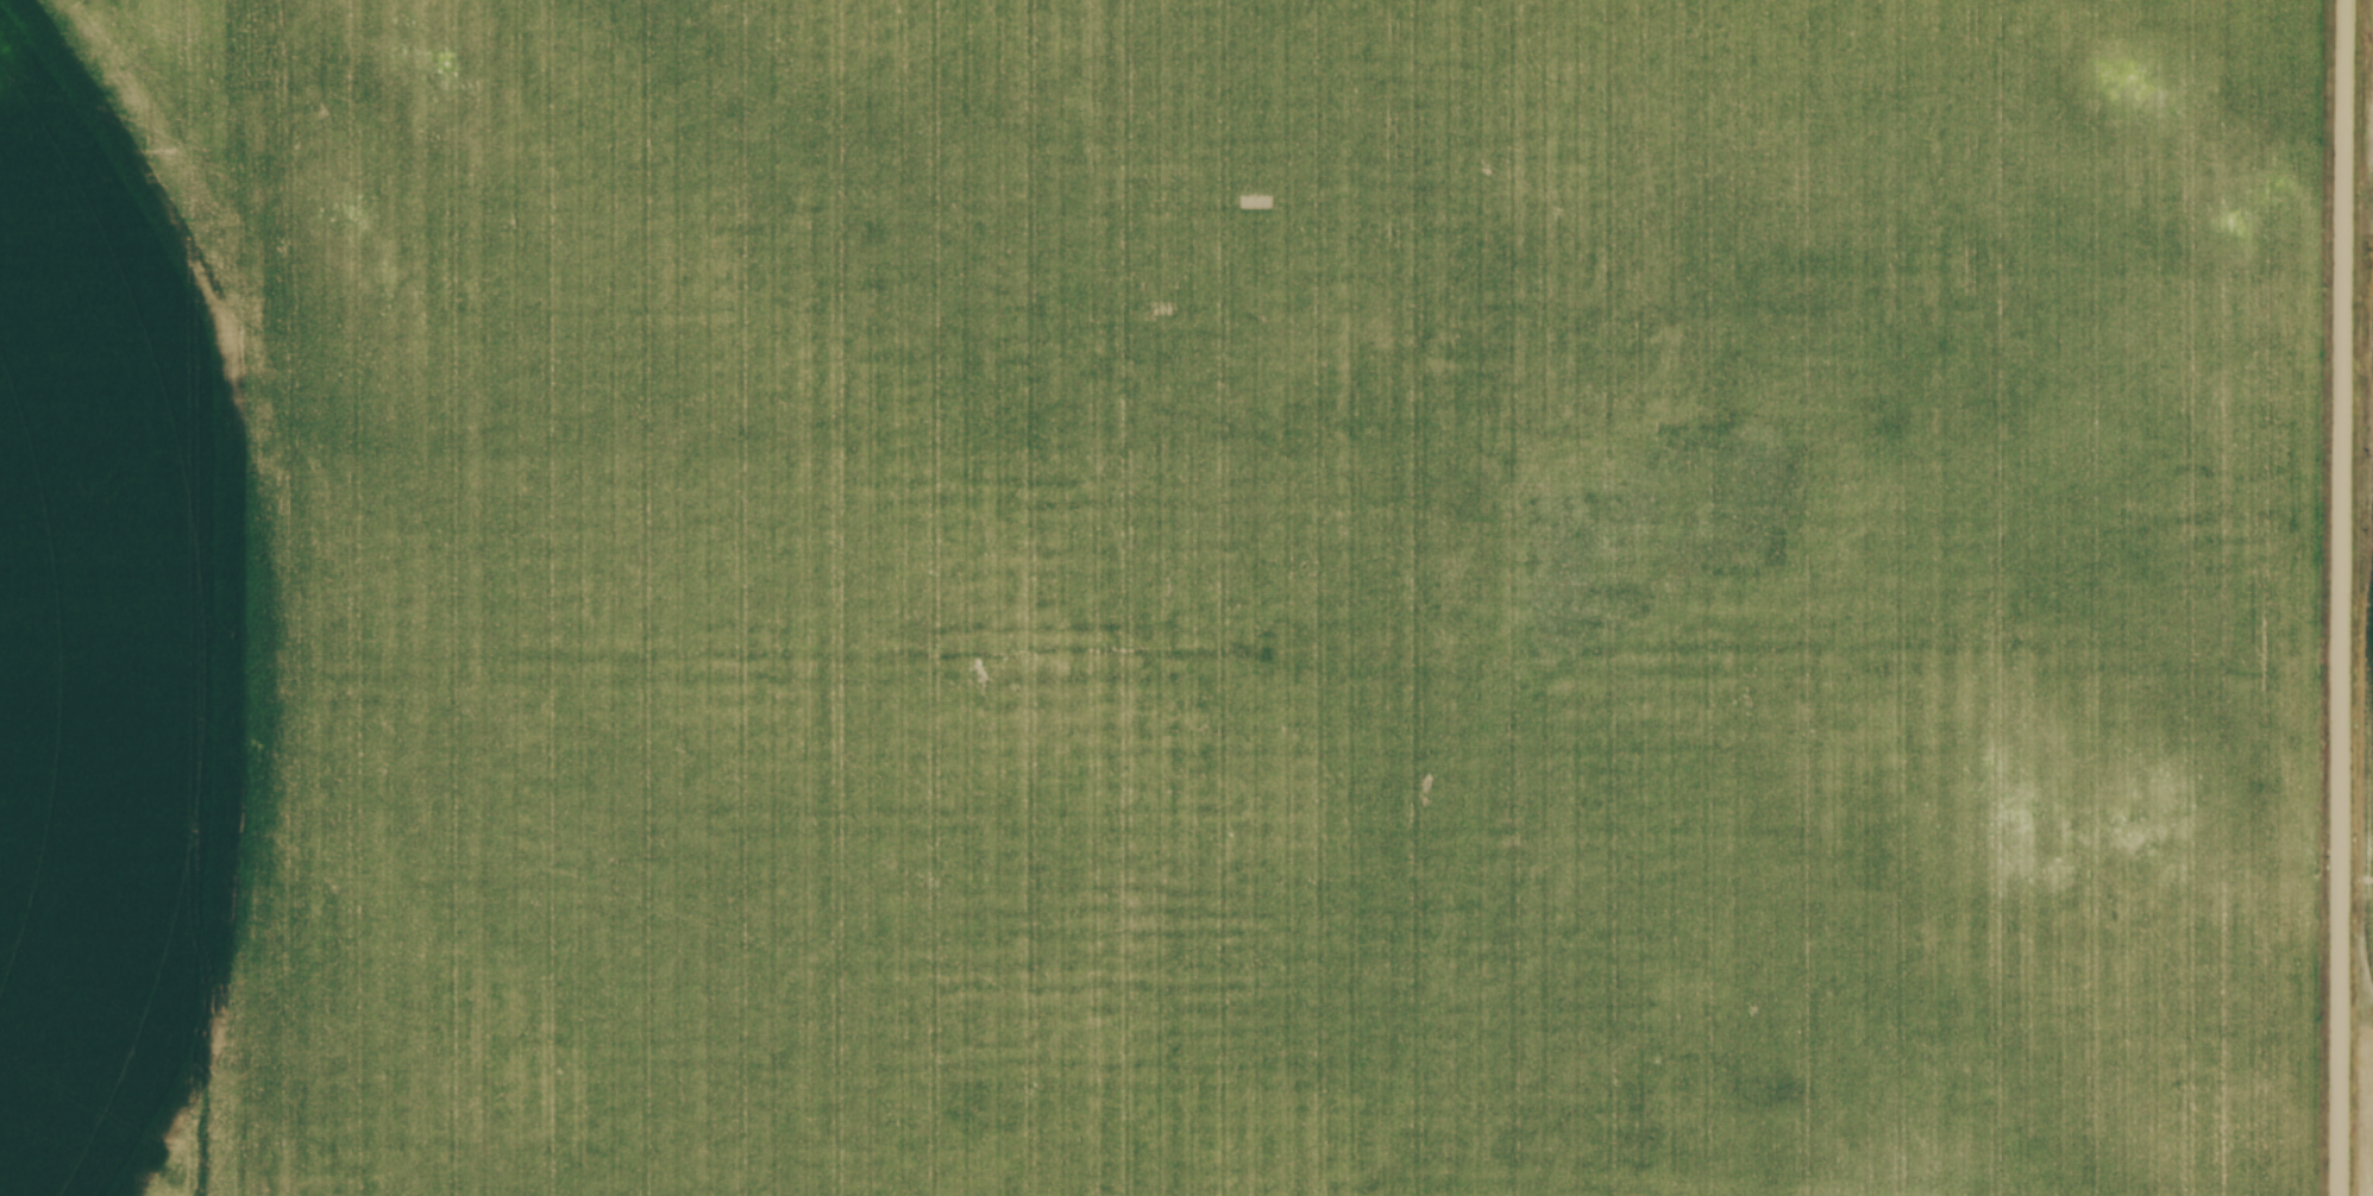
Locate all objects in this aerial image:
road: (2344, 598)

